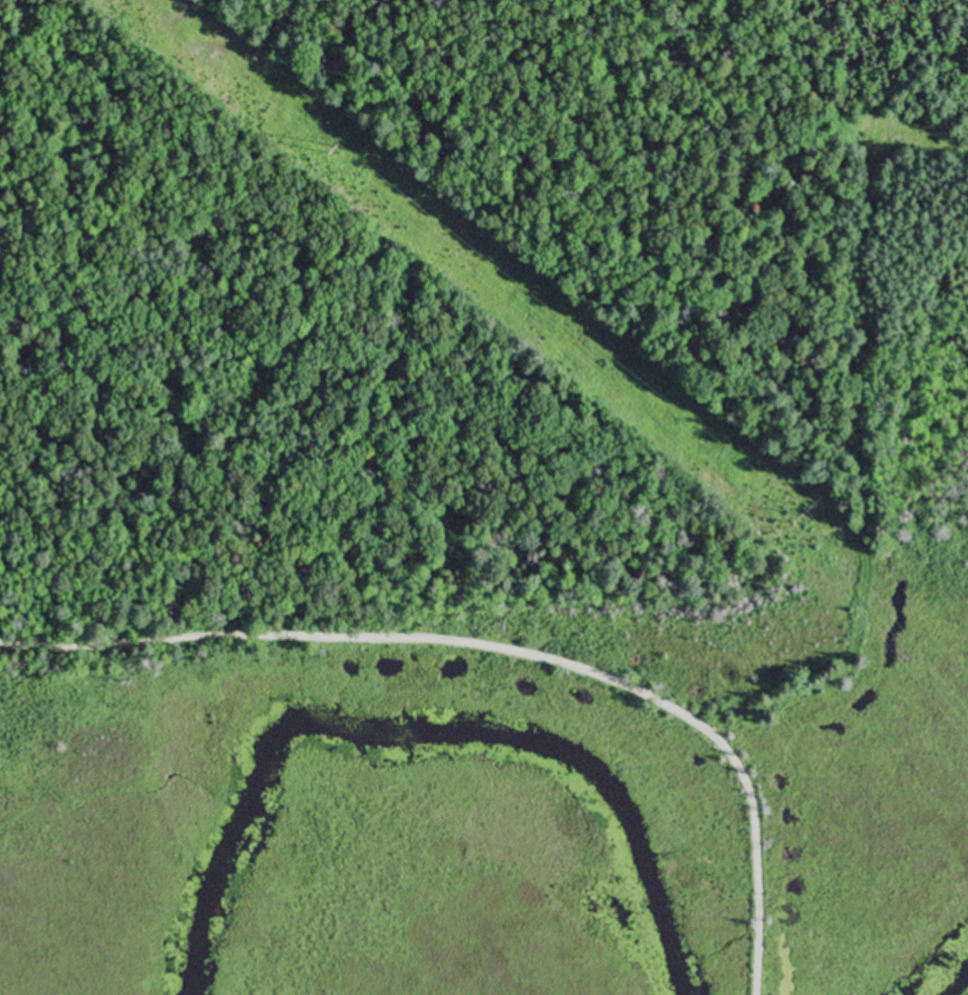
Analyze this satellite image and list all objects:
power tower: (348, 154)
power tower: (799, 516)
road: (502, 649)

